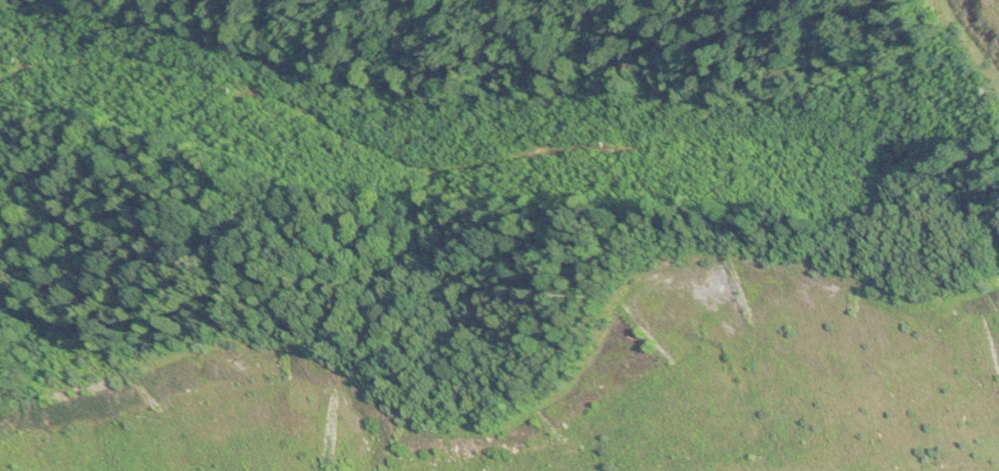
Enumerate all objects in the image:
quarry: (566, 353)

